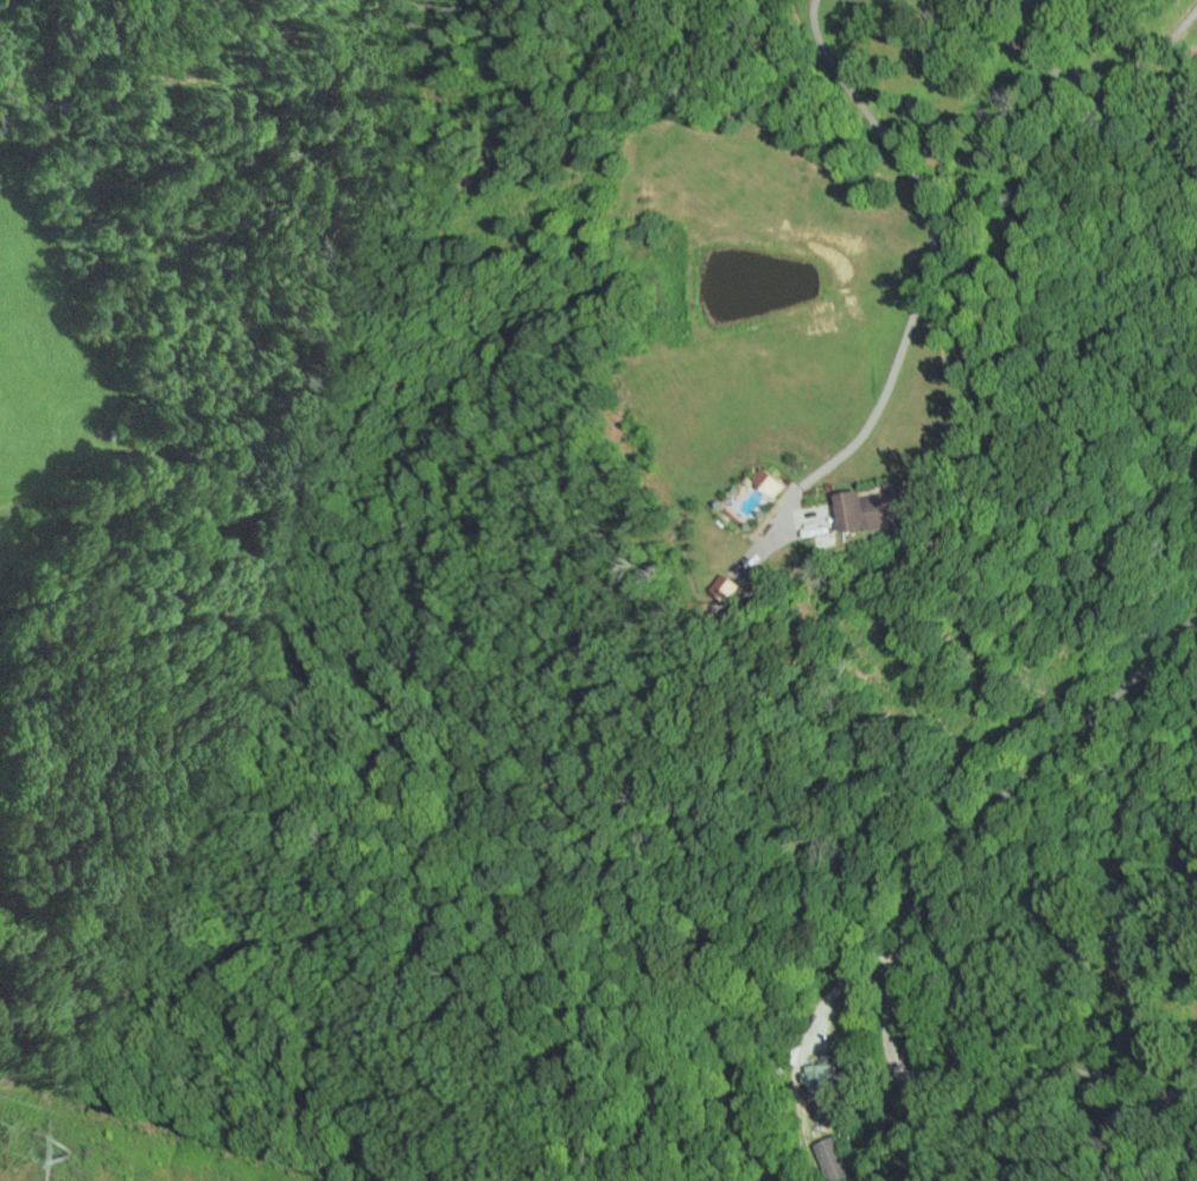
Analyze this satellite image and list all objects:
road: (1070, 76)
building: (896, 508)
road: (899, 938)
building: (828, 1081)
power tower: (70, 1145)
building: (839, 1158)

